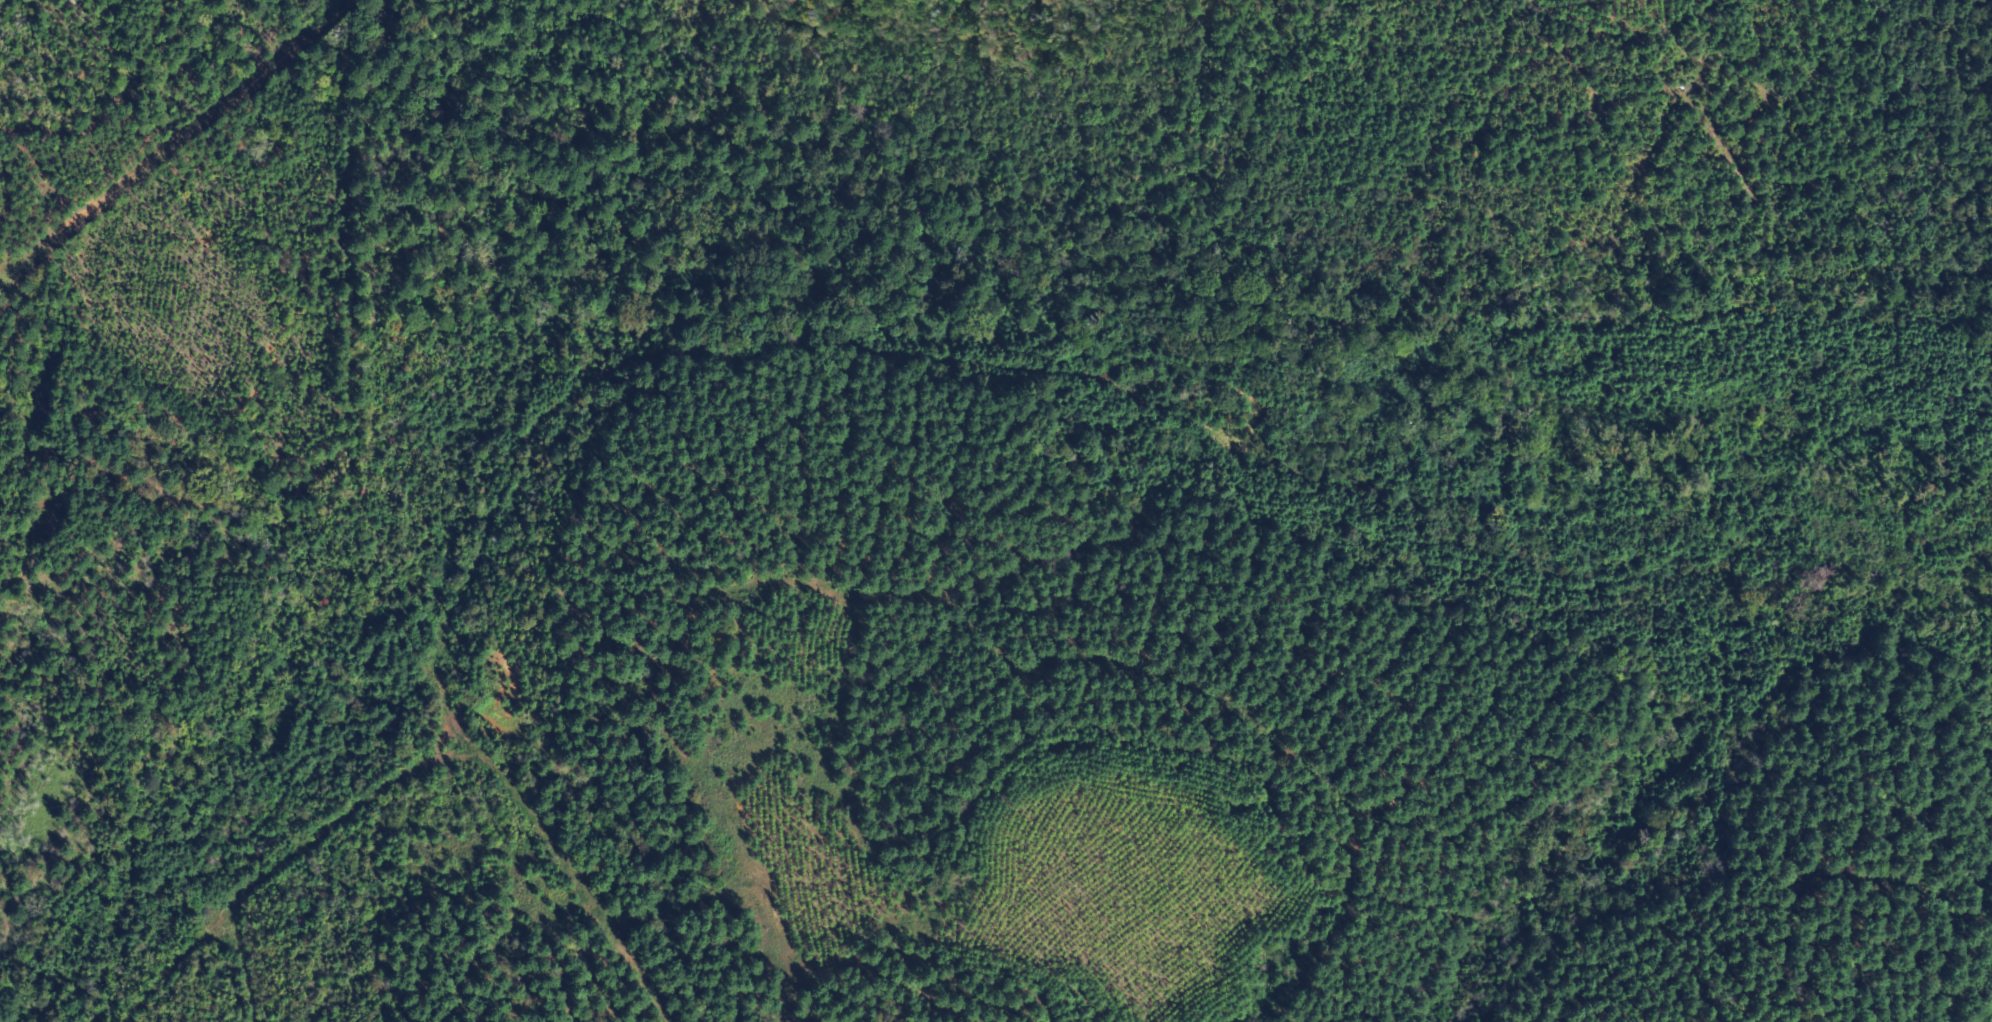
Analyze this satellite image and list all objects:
road: (117, 146)
road: (376, 544)

